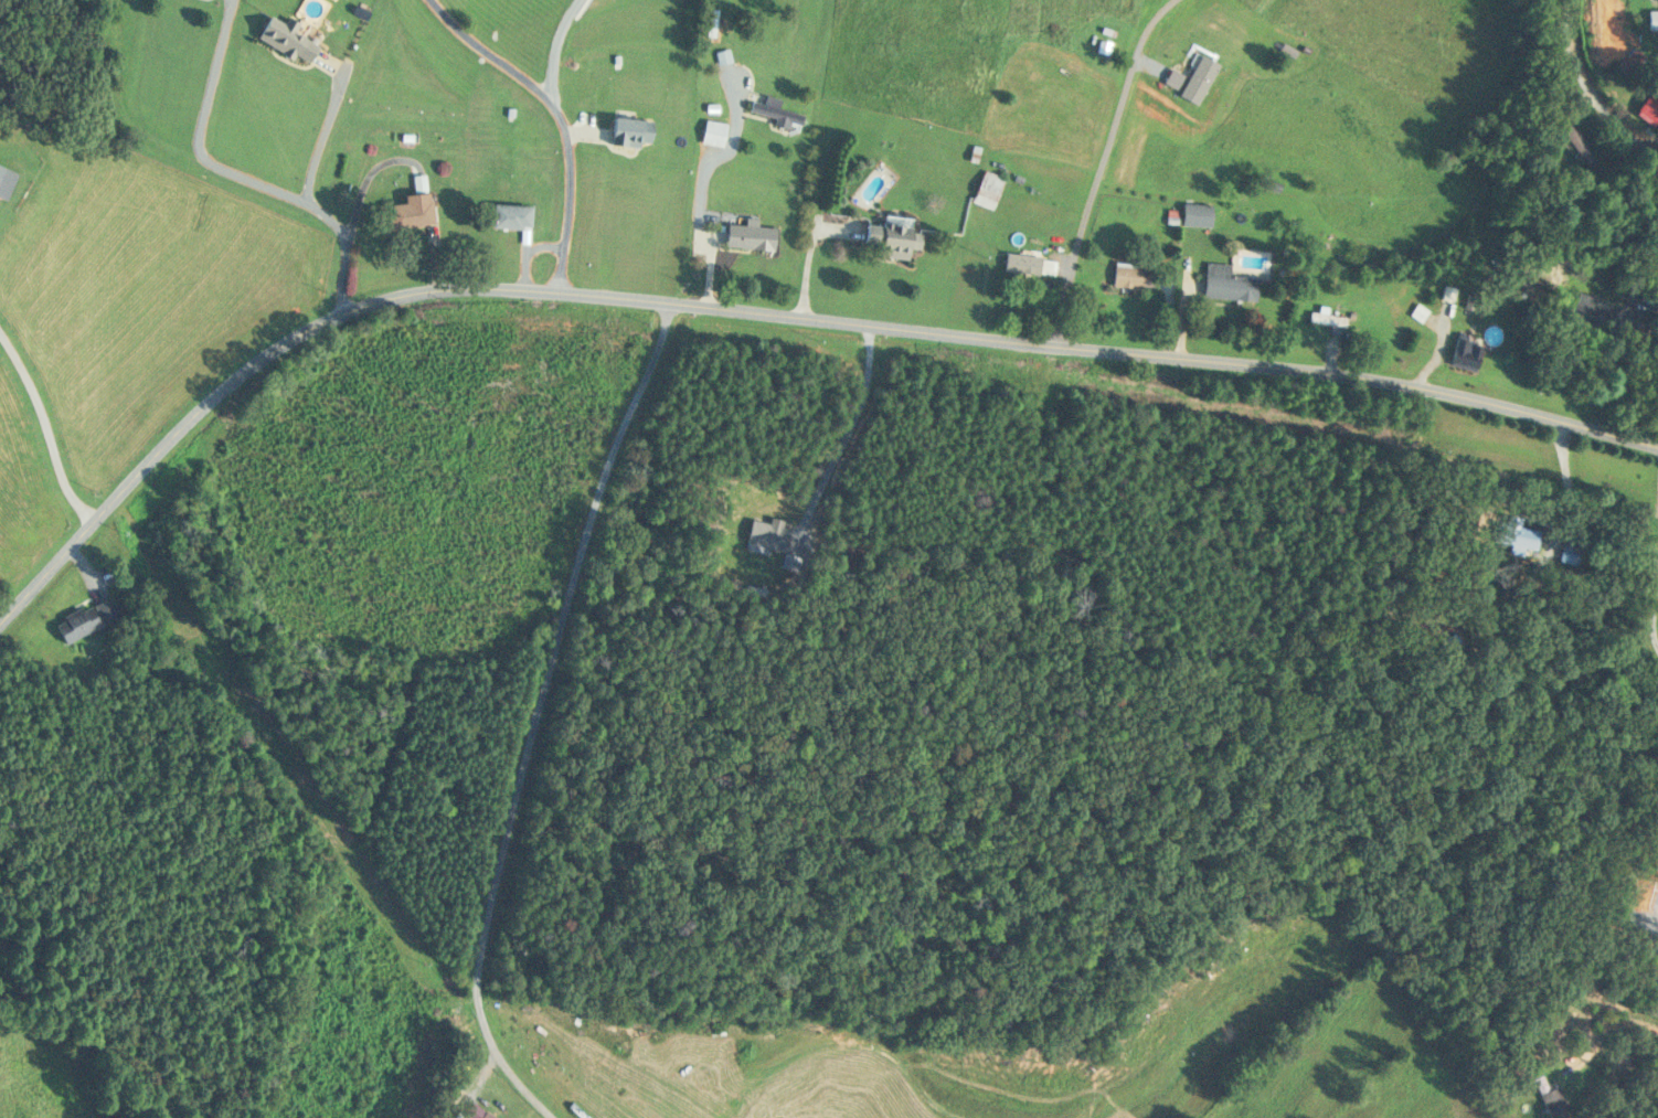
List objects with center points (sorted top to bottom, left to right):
building: (1652, 18)
building: (284, 38)
road: (554, 51)
building: (722, 56)
road: (1591, 88)
building: (1649, 108)
building: (775, 111)
road: (561, 120)
building: (712, 132)
road: (321, 139)
building: (1572, 139)
road: (1102, 164)
road: (237, 173)
building: (4, 181)
building: (987, 188)
building: (408, 212)
building: (1195, 213)
building: (510, 215)
building: (633, 226)
building: (748, 236)
building: (891, 238)
building: (1021, 263)
building: (1126, 275)
building: (1527, 275)
building: (1226, 283)
road: (768, 312)
building: (1586, 313)
building: (1465, 352)
road: (830, 416)
road: (49, 425)
park: (1652, 569)
building: (85, 618)
road: (534, 713)
road: (1609, 1031)
building: (1551, 1099)
building: (565, 1100)

